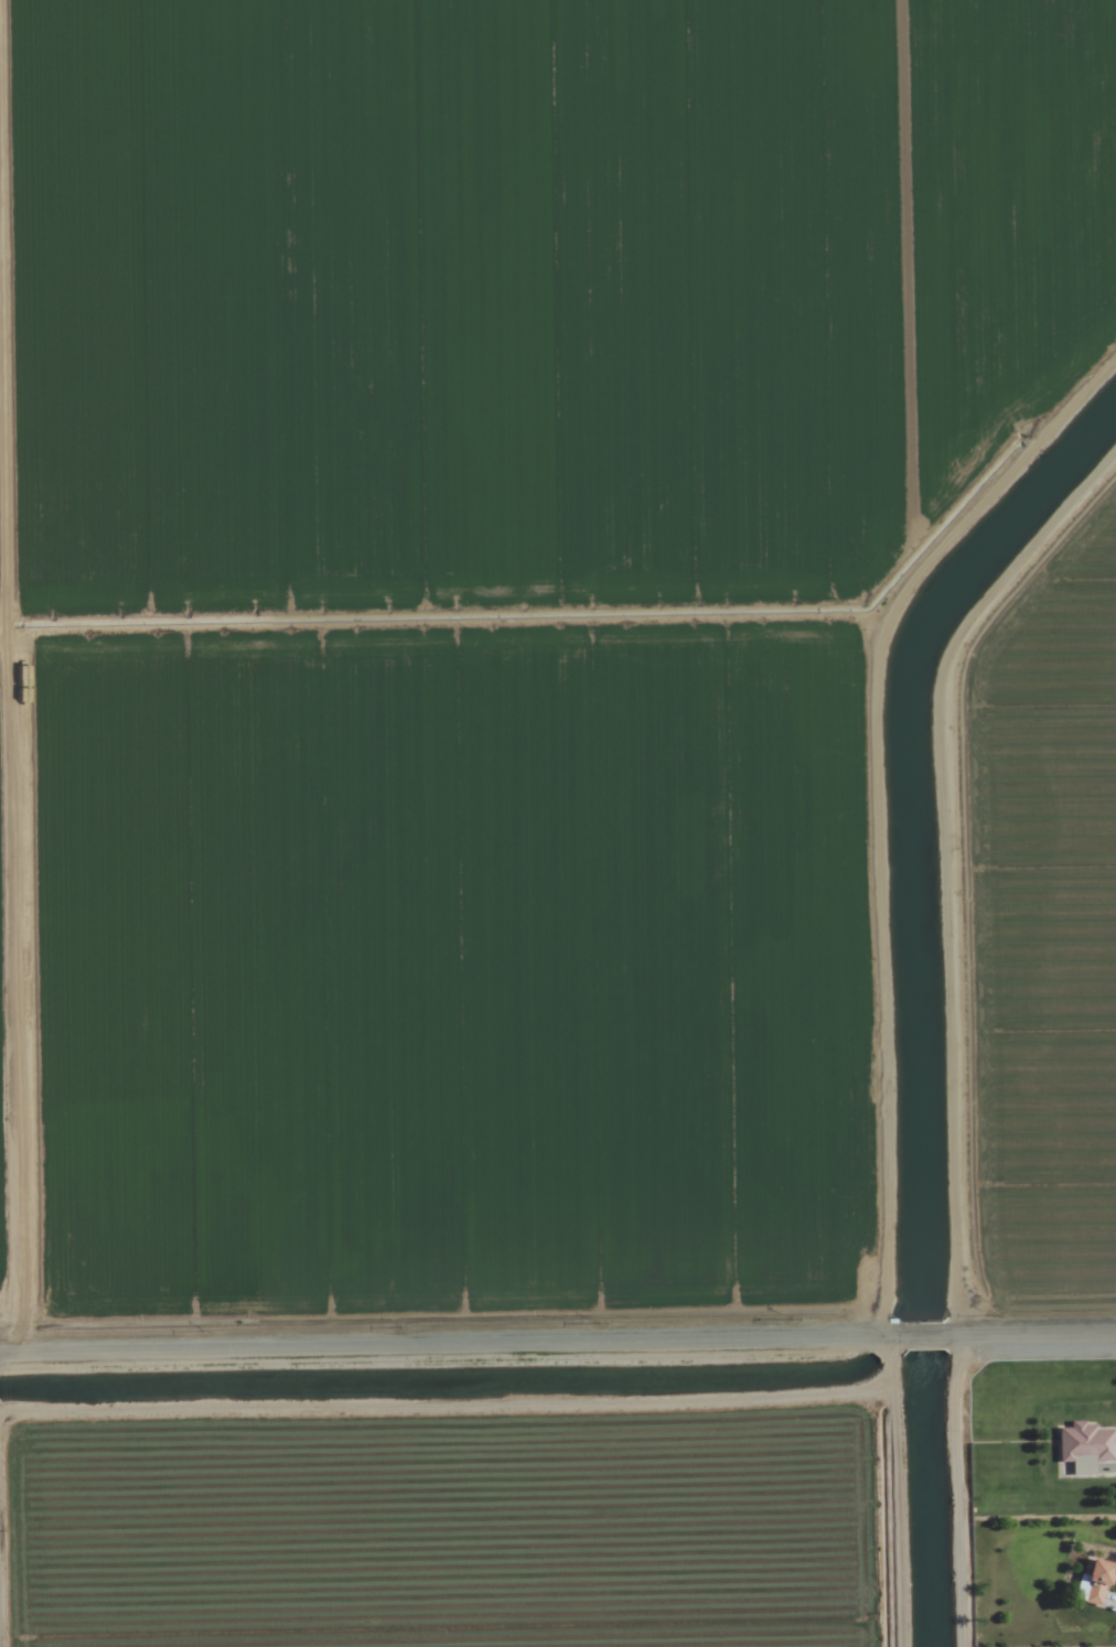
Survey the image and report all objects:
road: (1040, 1330)
road: (913, 1333)
road: (431, 1343)
building: (1081, 1440)
building: (1106, 1575)

